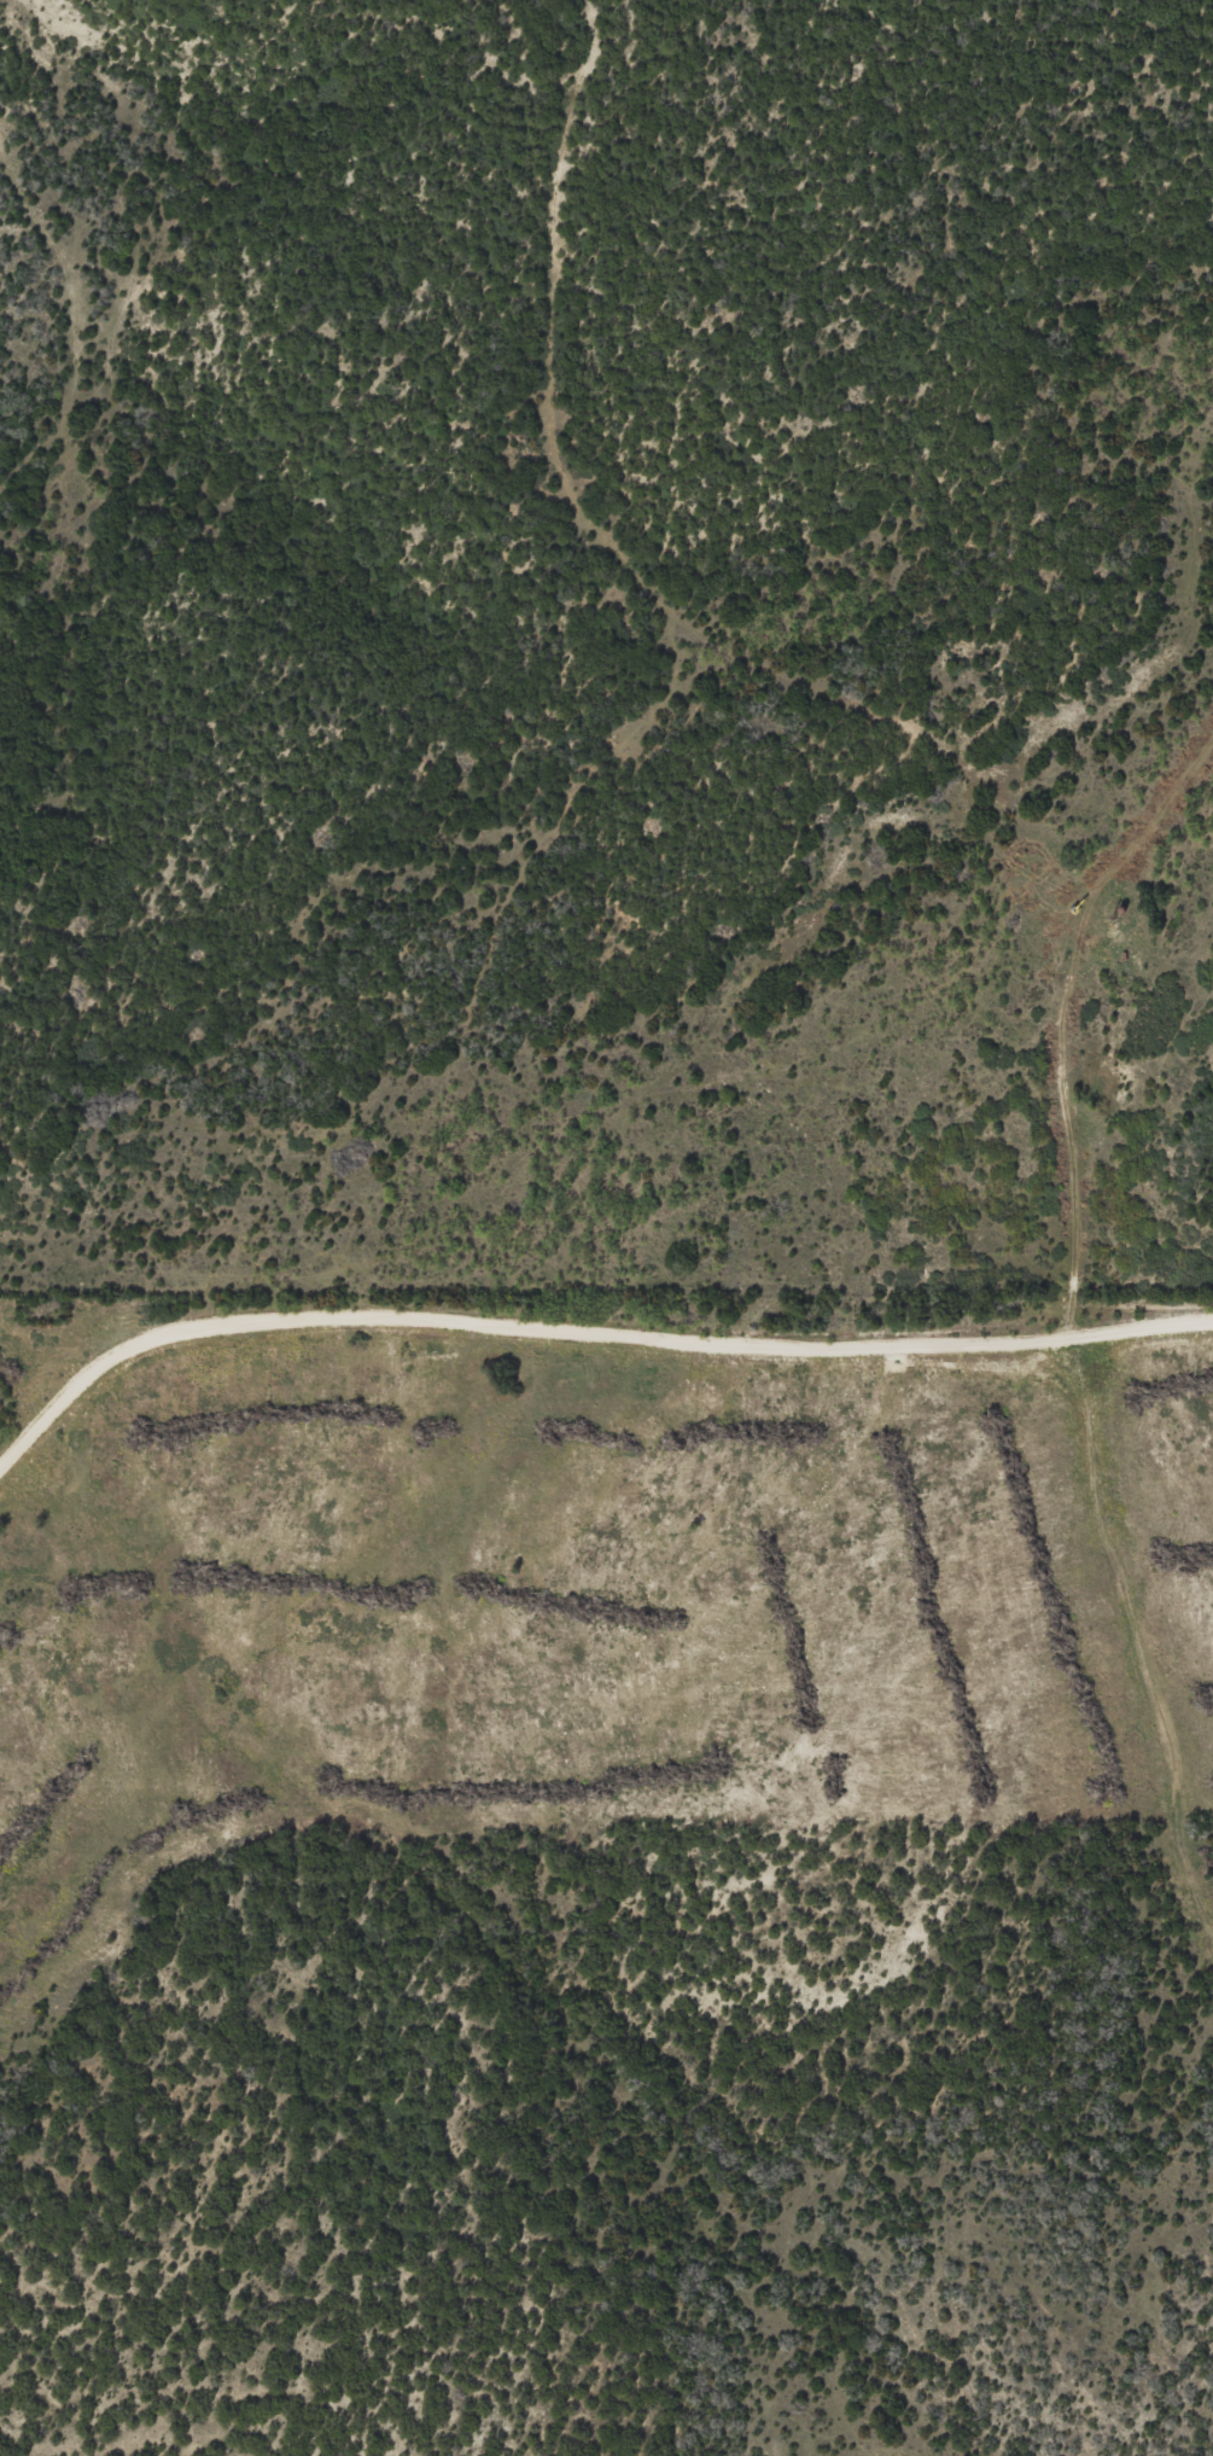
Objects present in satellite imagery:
road: (1083, 1249)

